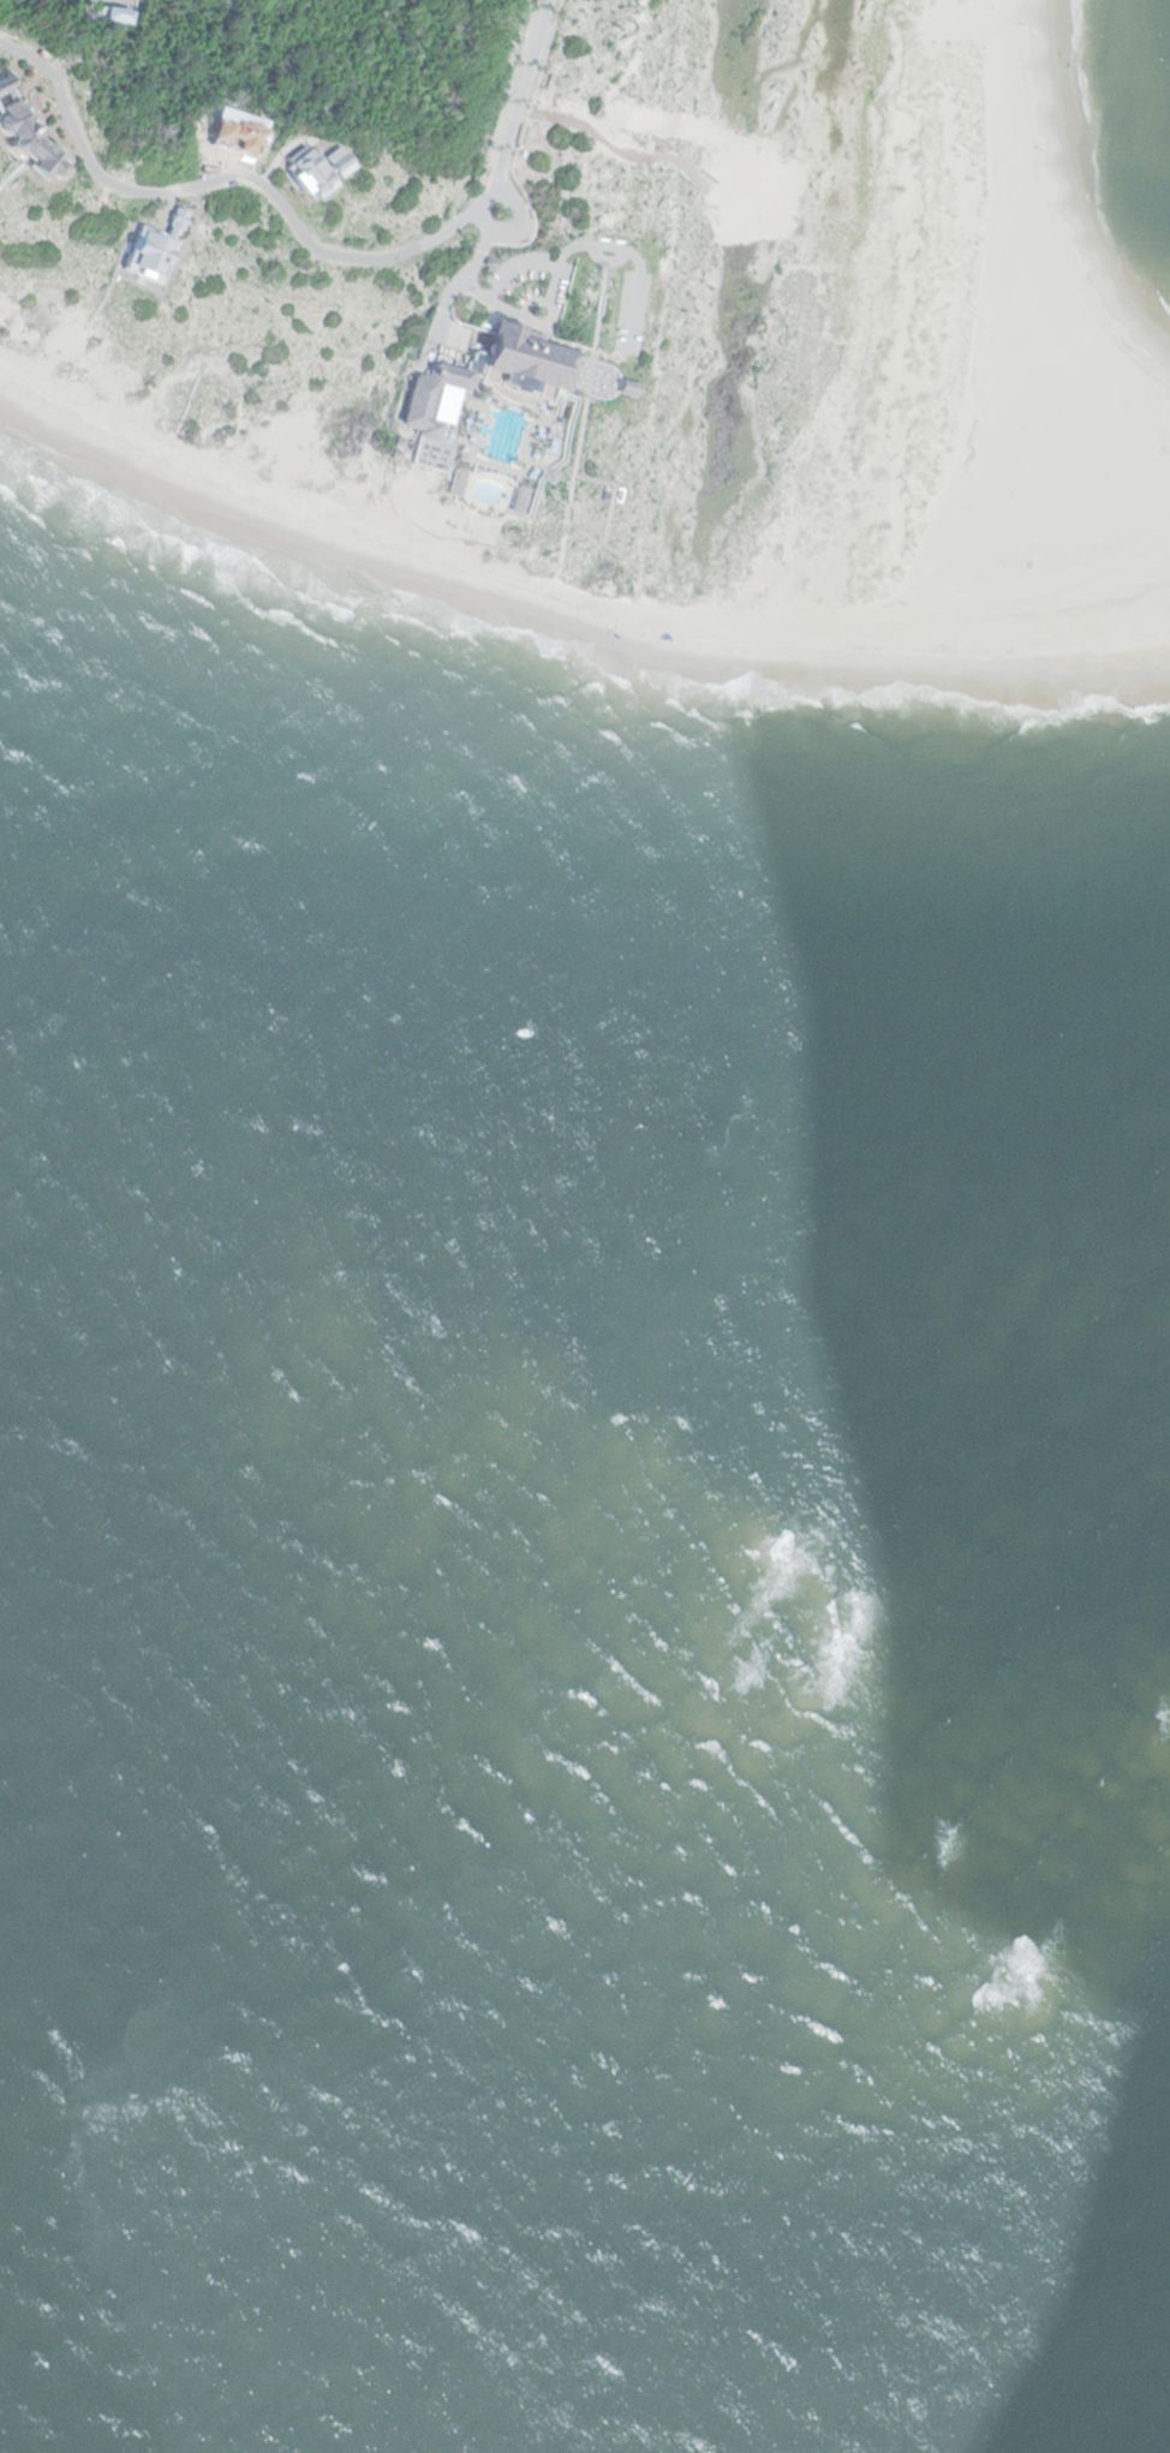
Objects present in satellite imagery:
building: (111, 0)
road: (907, 7)
building: (124, 17)
building: (5, 79)
building: (28, 144)
building: (308, 165)
road: (305, 237)
building: (149, 246)
building: (482, 380)
road: (544, 591)

